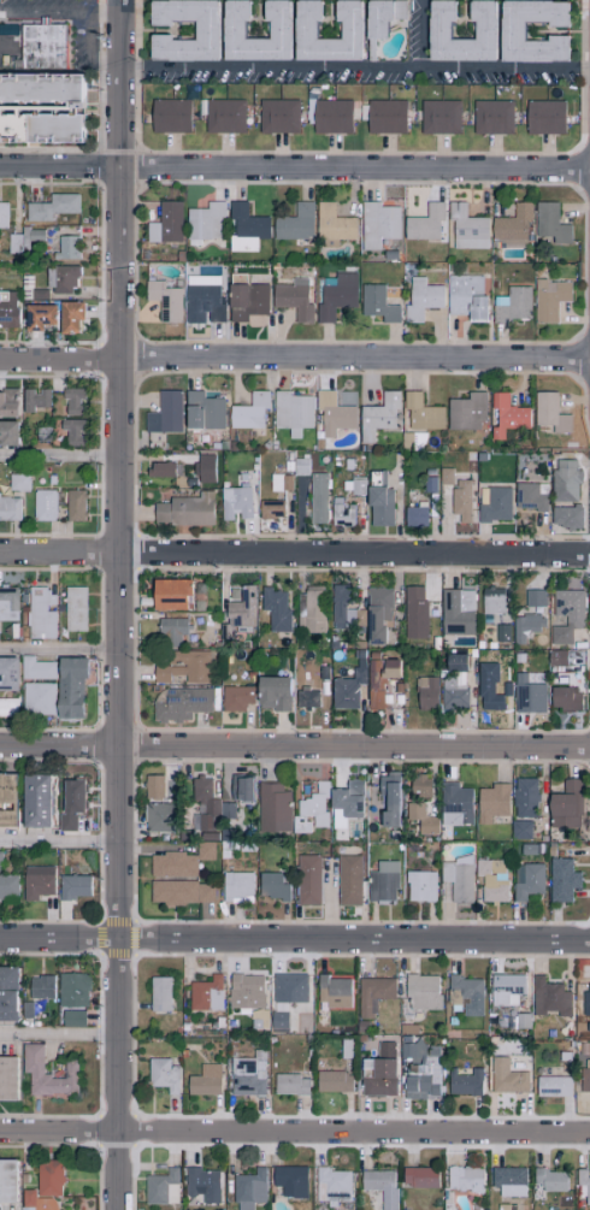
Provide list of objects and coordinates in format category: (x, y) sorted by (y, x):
road: (58, 13)
building: (379, 16)
building: (203, 29)
building: (230, 29)
building: (302, 29)
building: (436, 29)
building: (509, 29)
road: (420, 34)
road: (269, 67)
road: (506, 69)
building: (40, 106)
building: (167, 116)
building: (223, 116)
building: (276, 116)
building: (329, 116)
building: (383, 116)
building: (437, 116)
building: (490, 117)
building: (543, 117)
road: (295, 169)
building: (49, 207)
building: (1, 214)
building: (203, 222)
building: (164, 223)
building: (293, 223)
building: (331, 223)
building: (423, 223)
building: (548, 223)
building: (376, 224)
building: (511, 225)
building: (243, 228)
building: (465, 228)
building: (64, 247)
building: (58, 278)
building: (334, 295)
building: (465, 296)
building: (291, 299)
building: (419, 299)
building: (548, 299)
building: (163, 300)
building: (201, 303)
building: (244, 303)
building: (374, 303)
building: (509, 305)
building: (6, 309)
building: (37, 315)
building: (69, 317)
road: (294, 358)
building: (33, 399)
building: (71, 401)
building: (7, 403)
building: (201, 411)
building: (247, 412)
building: (290, 412)
building: (419, 412)
building: (465, 412)
building: (548, 412)
building: (163, 413)
building: (331, 413)
building: (377, 415)
building: (505, 415)
building: (70, 430)
building: (7, 433)
road: (58, 454)
building: (297, 466)
building: (158, 468)
building: (202, 468)
building: (443, 476)
building: (562, 480)
building: (16, 482)
building: (277, 482)
building: (527, 496)
building: (314, 498)
building: (459, 501)
building: (232, 502)
building: (42, 503)
building: (491, 503)
building: (72, 504)
building: (8, 507)
building: (378, 507)
building: (269, 509)
building: (183, 510)
building: (338, 513)
building: (564, 515)
building: (413, 517)
road: (294, 553)
building: (169, 595)
building: (532, 597)
building: (7, 598)
building: (489, 601)
road: (114, 604)
building: (338, 607)
building: (567, 607)
building: (72, 608)
building: (273, 608)
building: (308, 609)
building: (412, 612)
building: (454, 612)
building: (39, 613)
building: (376, 613)
building: (236, 614)
building: (524, 626)
building: (169, 630)
road: (58, 648)
building: (554, 657)
building: (454, 662)
building: (181, 666)
building: (34, 668)
building: (7, 674)
building: (378, 679)
building: (67, 687)
building: (485, 687)
building: (344, 690)
building: (271, 692)
building: (424, 692)
building: (450, 695)
building: (525, 695)
building: (234, 697)
building: (561, 697)
building: (35, 698)
building: (303, 698)
building: (179, 703)
building: (7, 707)
road: (294, 746)
building: (151, 786)
building: (417, 786)
building: (238, 789)
building: (523, 797)
building: (346, 798)
building: (6, 799)
building: (387, 799)
building: (34, 801)
building: (490, 802)
building: (69, 803)
building: (313, 804)
building: (453, 804)
building: (206, 805)
building: (564, 805)
building: (271, 808)
building: (155, 818)
building: (518, 830)
road: (57, 842)
building: (176, 862)
building: (455, 879)
building: (490, 879)
building: (305, 880)
building: (346, 880)
building: (560, 880)
building: (35, 881)
building: (525, 881)
building: (380, 883)
building: (7, 885)
building: (234, 886)
building: (270, 886)
building: (418, 886)
building: (71, 887)
building: (179, 892)
road: (294, 938)
building: (39, 987)
building: (505, 988)
building: (70, 990)
building: (243, 991)
building: (331, 992)
building: (419, 992)
building: (6, 993)
building: (158, 993)
building: (203, 994)
building: (371, 994)
building: (462, 994)
building: (284, 996)
building: (547, 998)
building: (585, 999)
building: (70, 1017)
road: (57, 1033)
building: (383, 1050)
building: (29, 1067)
building: (246, 1074)
building: (160, 1075)
building: (584, 1075)
building: (6, 1078)
building: (376, 1078)
building: (423, 1078)
building: (505, 1078)
building: (202, 1080)
building: (331, 1081)
building: (462, 1084)
building: (288, 1085)
building: (550, 1086)
road: (294, 1132)
building: (417, 1176)
building: (46, 1177)
building: (461, 1179)
building: (547, 1180)
building: (6, 1181)
building: (288, 1181)
building: (507, 1181)
building: (200, 1185)
building: (330, 1186)
building: (378, 1186)
building: (580, 1186)
building: (159, 1187)
building: (246, 1190)
building: (33, 1202)

